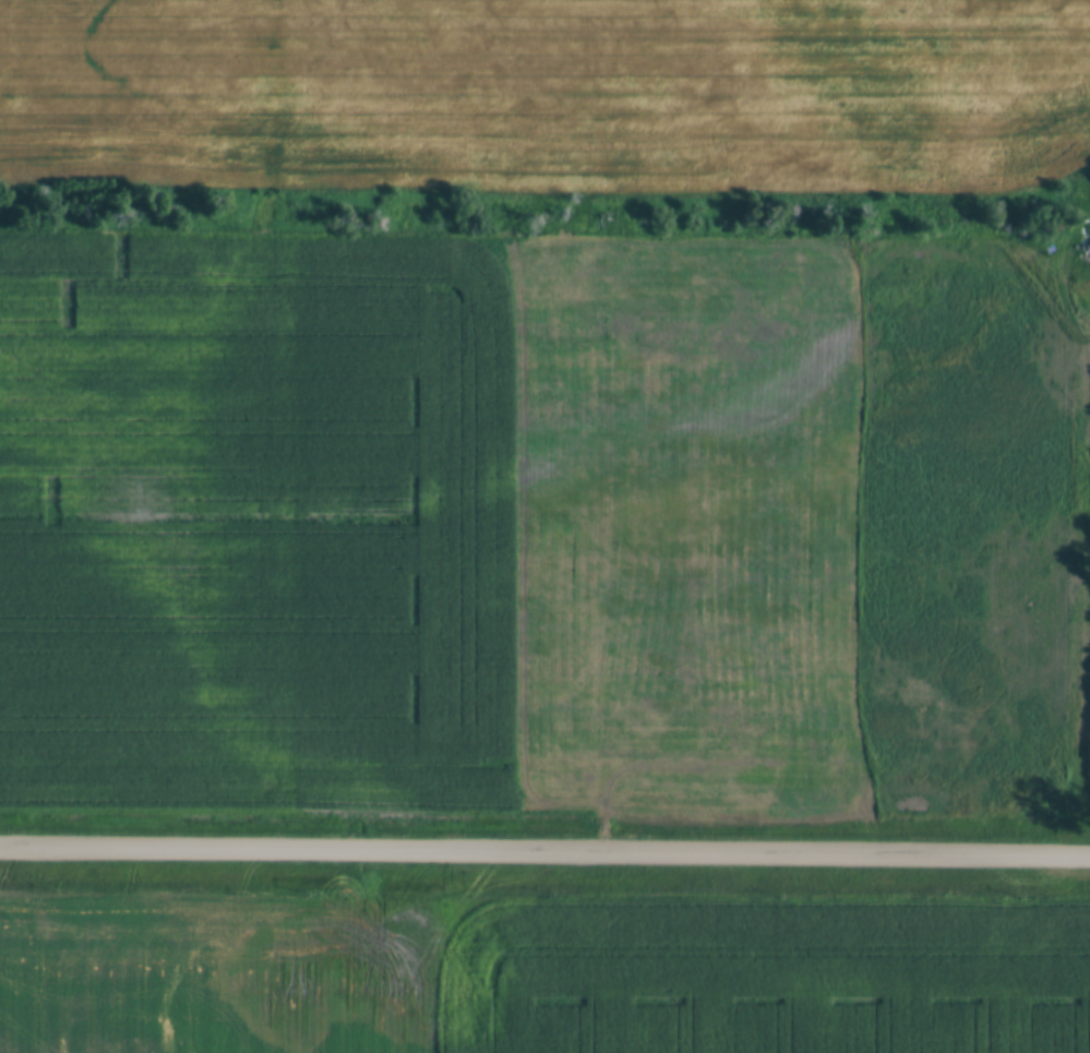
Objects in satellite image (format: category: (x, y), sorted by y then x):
road: (544, 850)

